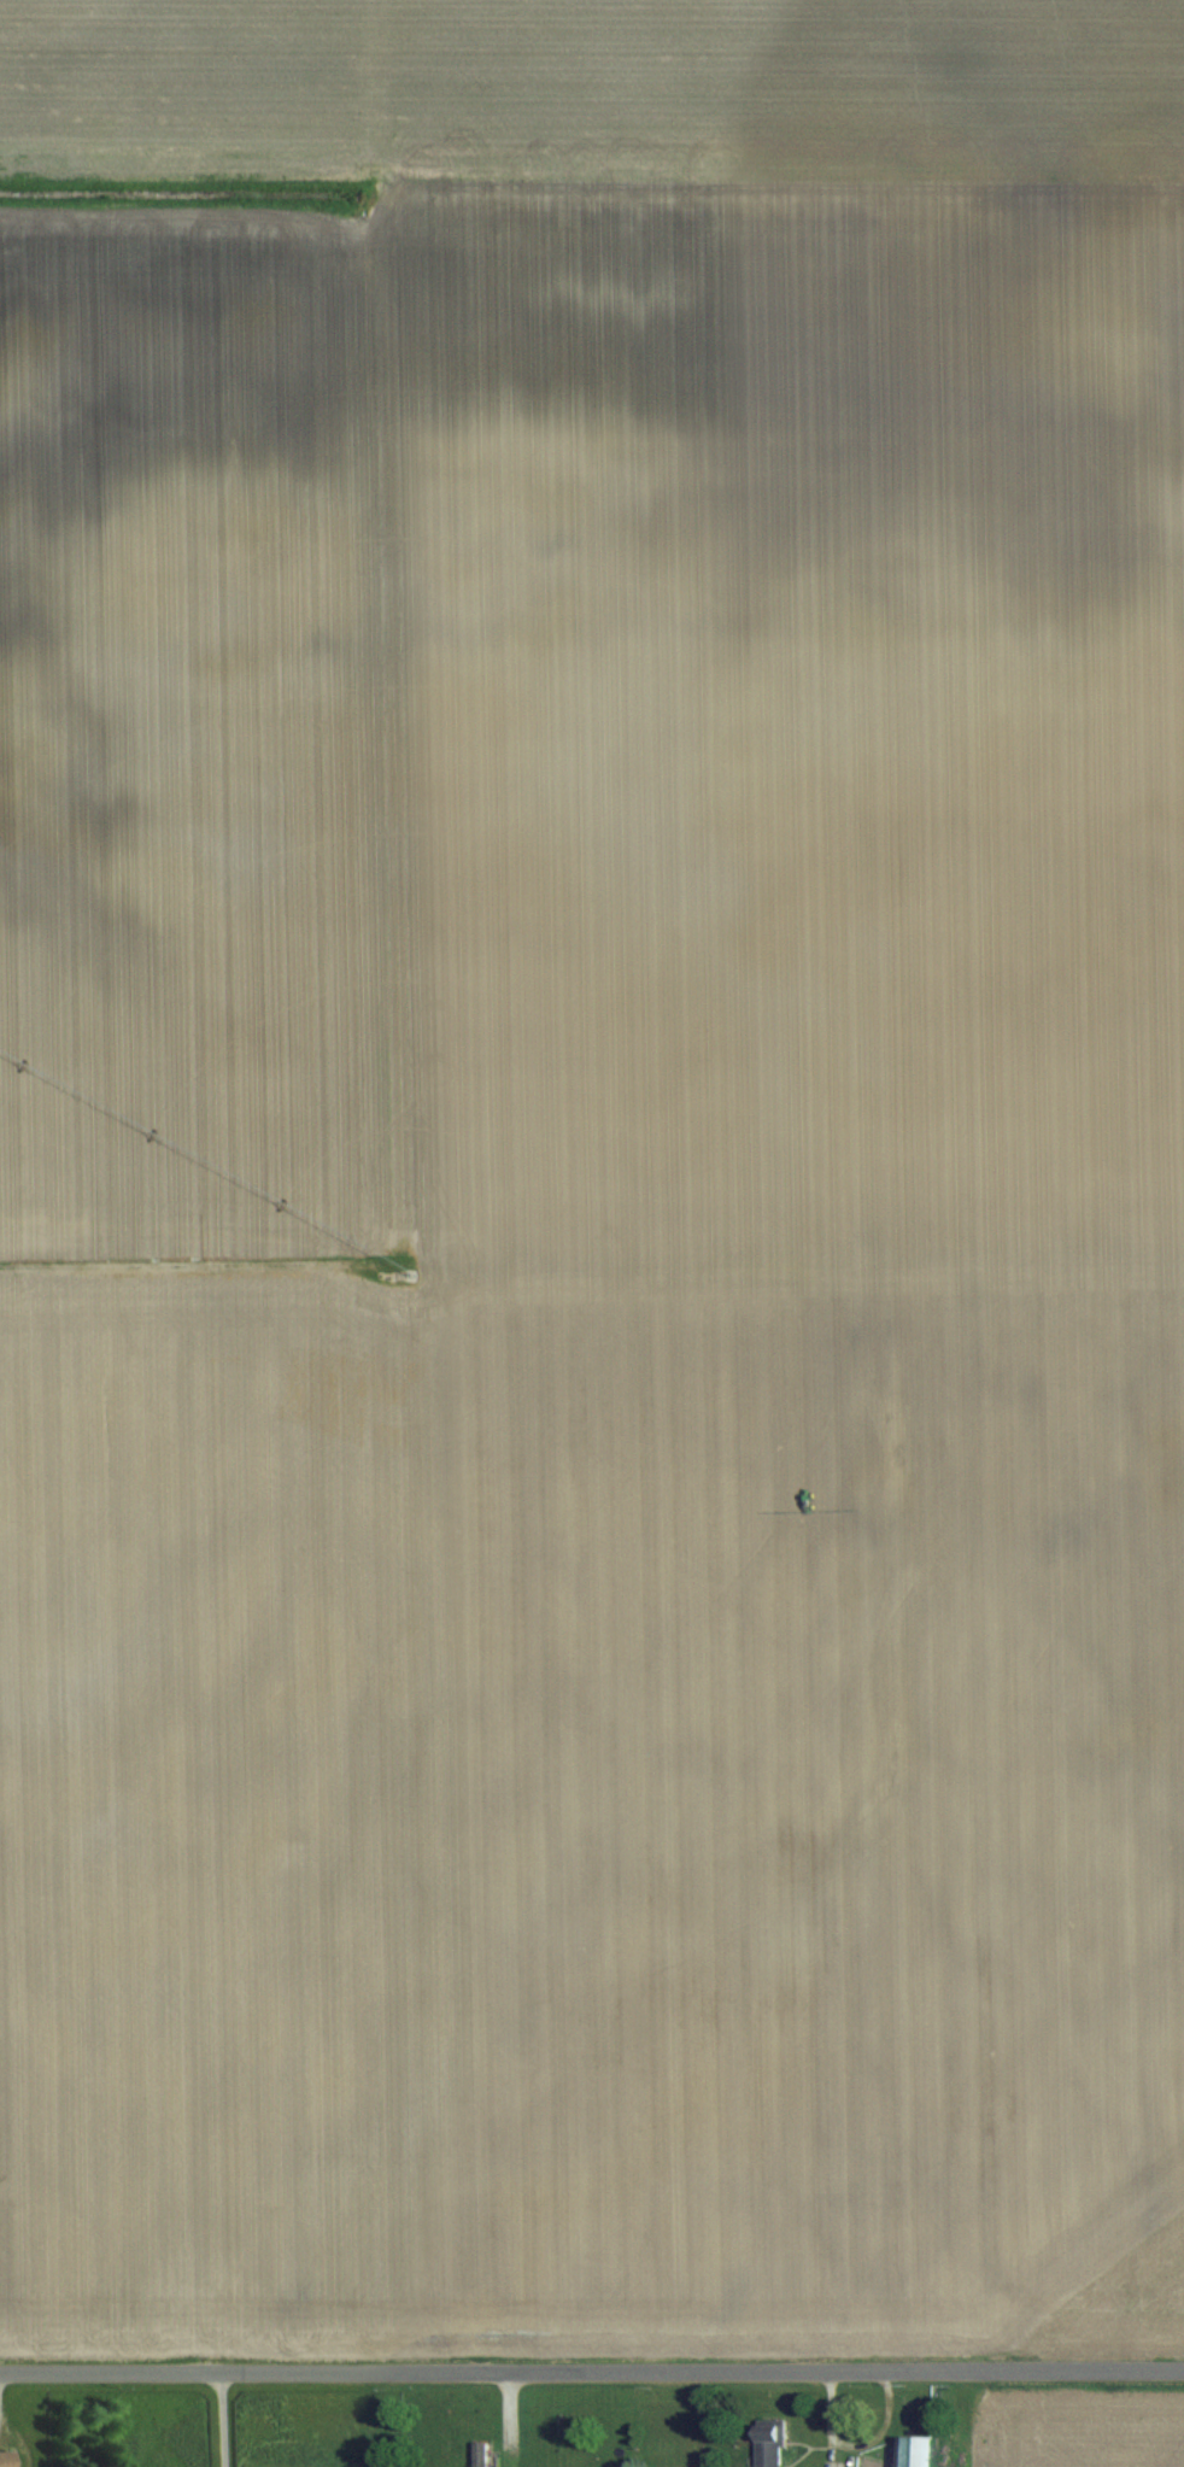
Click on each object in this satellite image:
road: (592, 2369)
road: (223, 2419)
road: (505, 2419)
building: (768, 2443)
building: (913, 2450)
building: (477, 2454)
building: (5, 2459)

